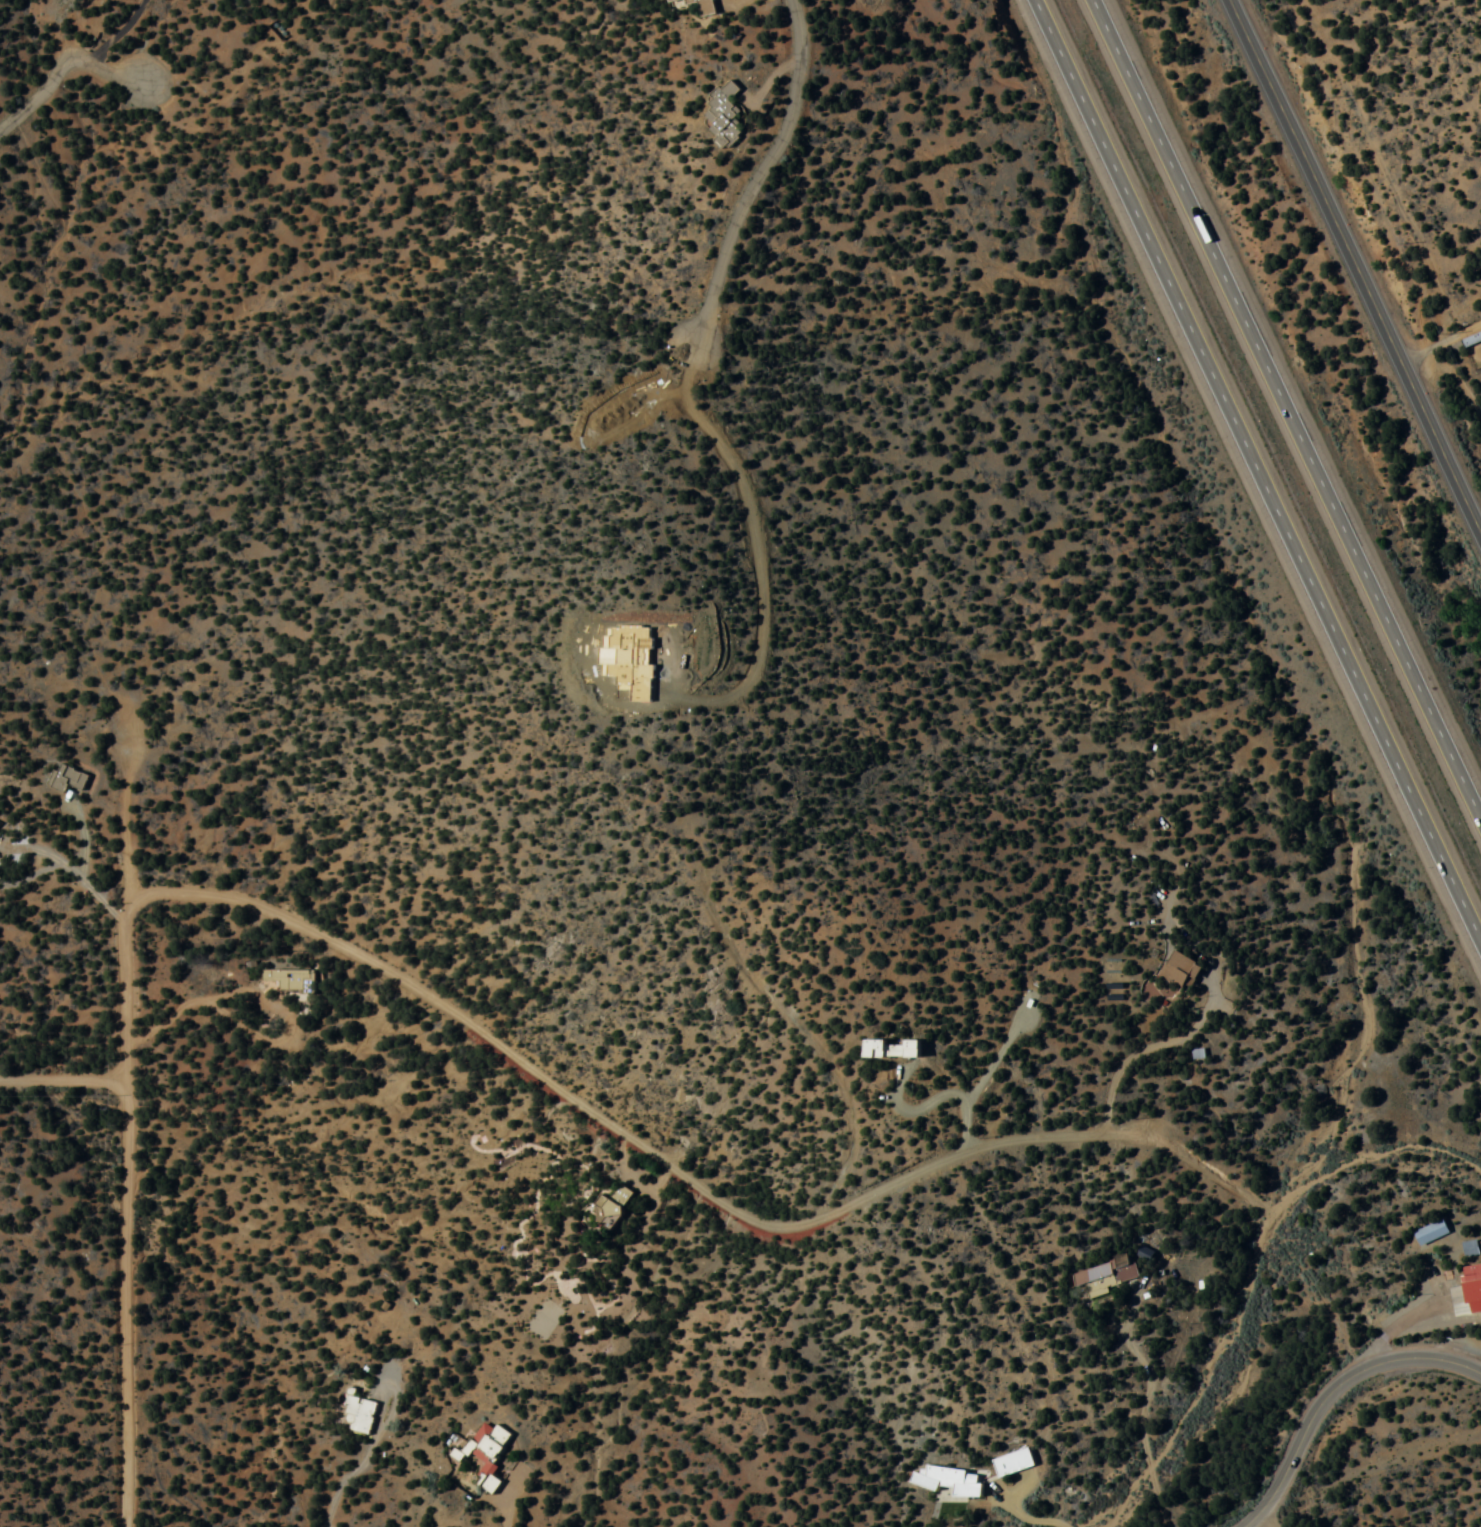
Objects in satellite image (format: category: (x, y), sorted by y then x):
building: (705, 11)
road: (116, 33)
road: (61, 67)
road: (772, 78)
building: (730, 109)
road: (761, 171)
road: (1353, 268)
building: (1472, 340)
road: (1440, 341)
road: (1289, 411)
road: (1257, 465)
building: (68, 780)
building: (1179, 972)
building: (289, 980)
building: (890, 1050)
building: (1196, 1055)
road: (66, 1076)
road: (131, 1133)
road: (684, 1170)
building: (614, 1203)
flagpole: (1455, 1257)
building: (1105, 1276)
building: (1426, 1279)
road: (1462, 1315)
road: (1400, 1322)
road: (1334, 1394)
road: (1149, 1395)
building: (358, 1415)
building: (485, 1453)
building: (1011, 1463)
building: (948, 1484)

